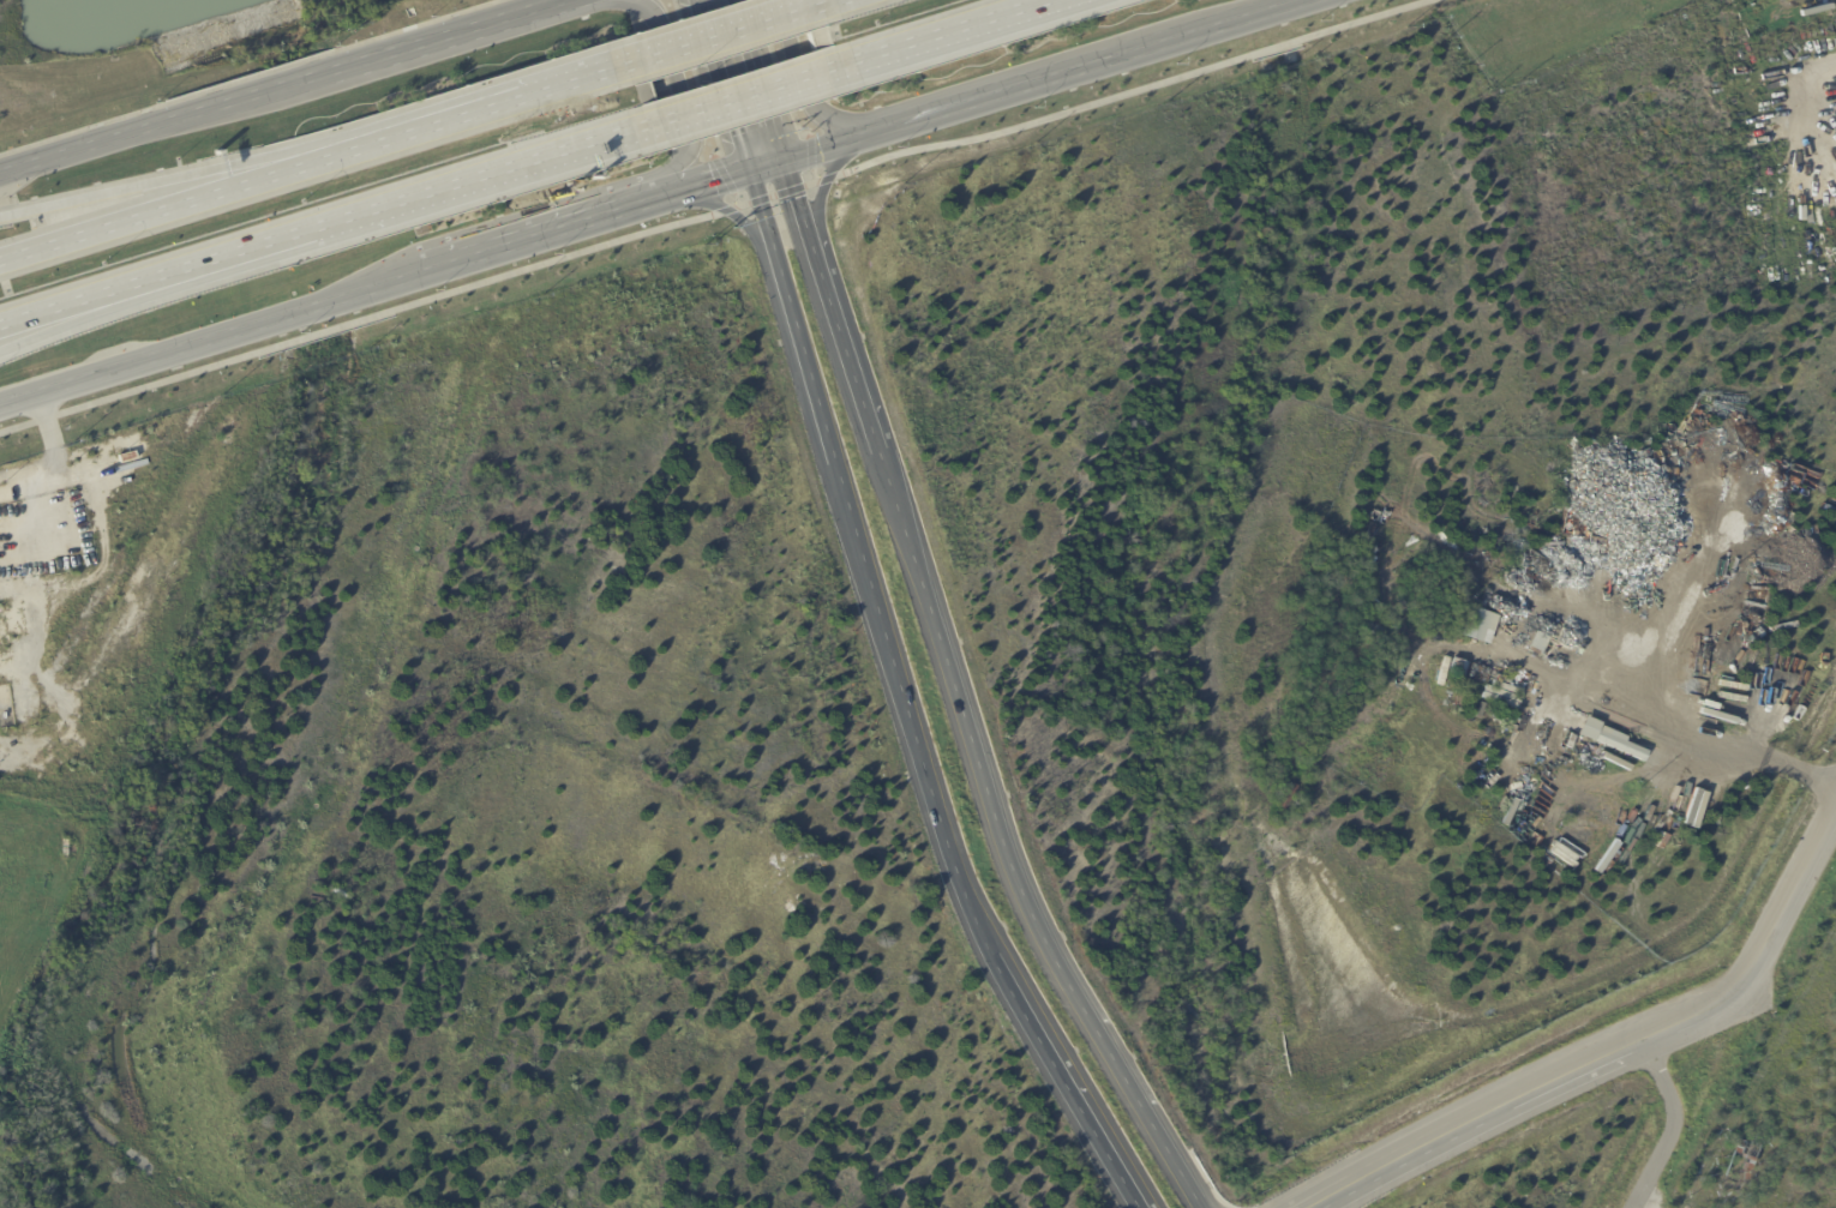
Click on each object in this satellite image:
road: (826, 4)
road: (730, 32)
road: (936, 34)
road: (449, 38)
road: (1037, 77)
road: (763, 78)
road: (808, 83)
road: (720, 85)
road: (745, 92)
road: (532, 94)
road: (677, 95)
road: (164, 125)
traffic signals: (786, 156)
road: (764, 163)
road: (208, 168)
traffic signals: (744, 170)
road: (486, 173)
road: (827, 180)
road: (703, 184)
road: (209, 194)
road: (726, 205)
road: (715, 214)
road: (544, 235)
road: (258, 244)
road: (102, 293)
road: (102, 306)
road: (212, 341)
building: (142, 492)
building: (0, 507)
road: (106, 525)
building: (11, 621)
building: (1477, 625)
building: (1373, 636)
building: (1535, 644)
building: (1457, 668)
building: (1399, 690)
road: (956, 697)
building: (6, 699)
road: (904, 705)
building: (1608, 741)
road: (1702, 741)
building: (1284, 797)
road: (1618, 1050)
road: (1669, 1124)
building: (1732, 1165)
road: (1642, 1204)

